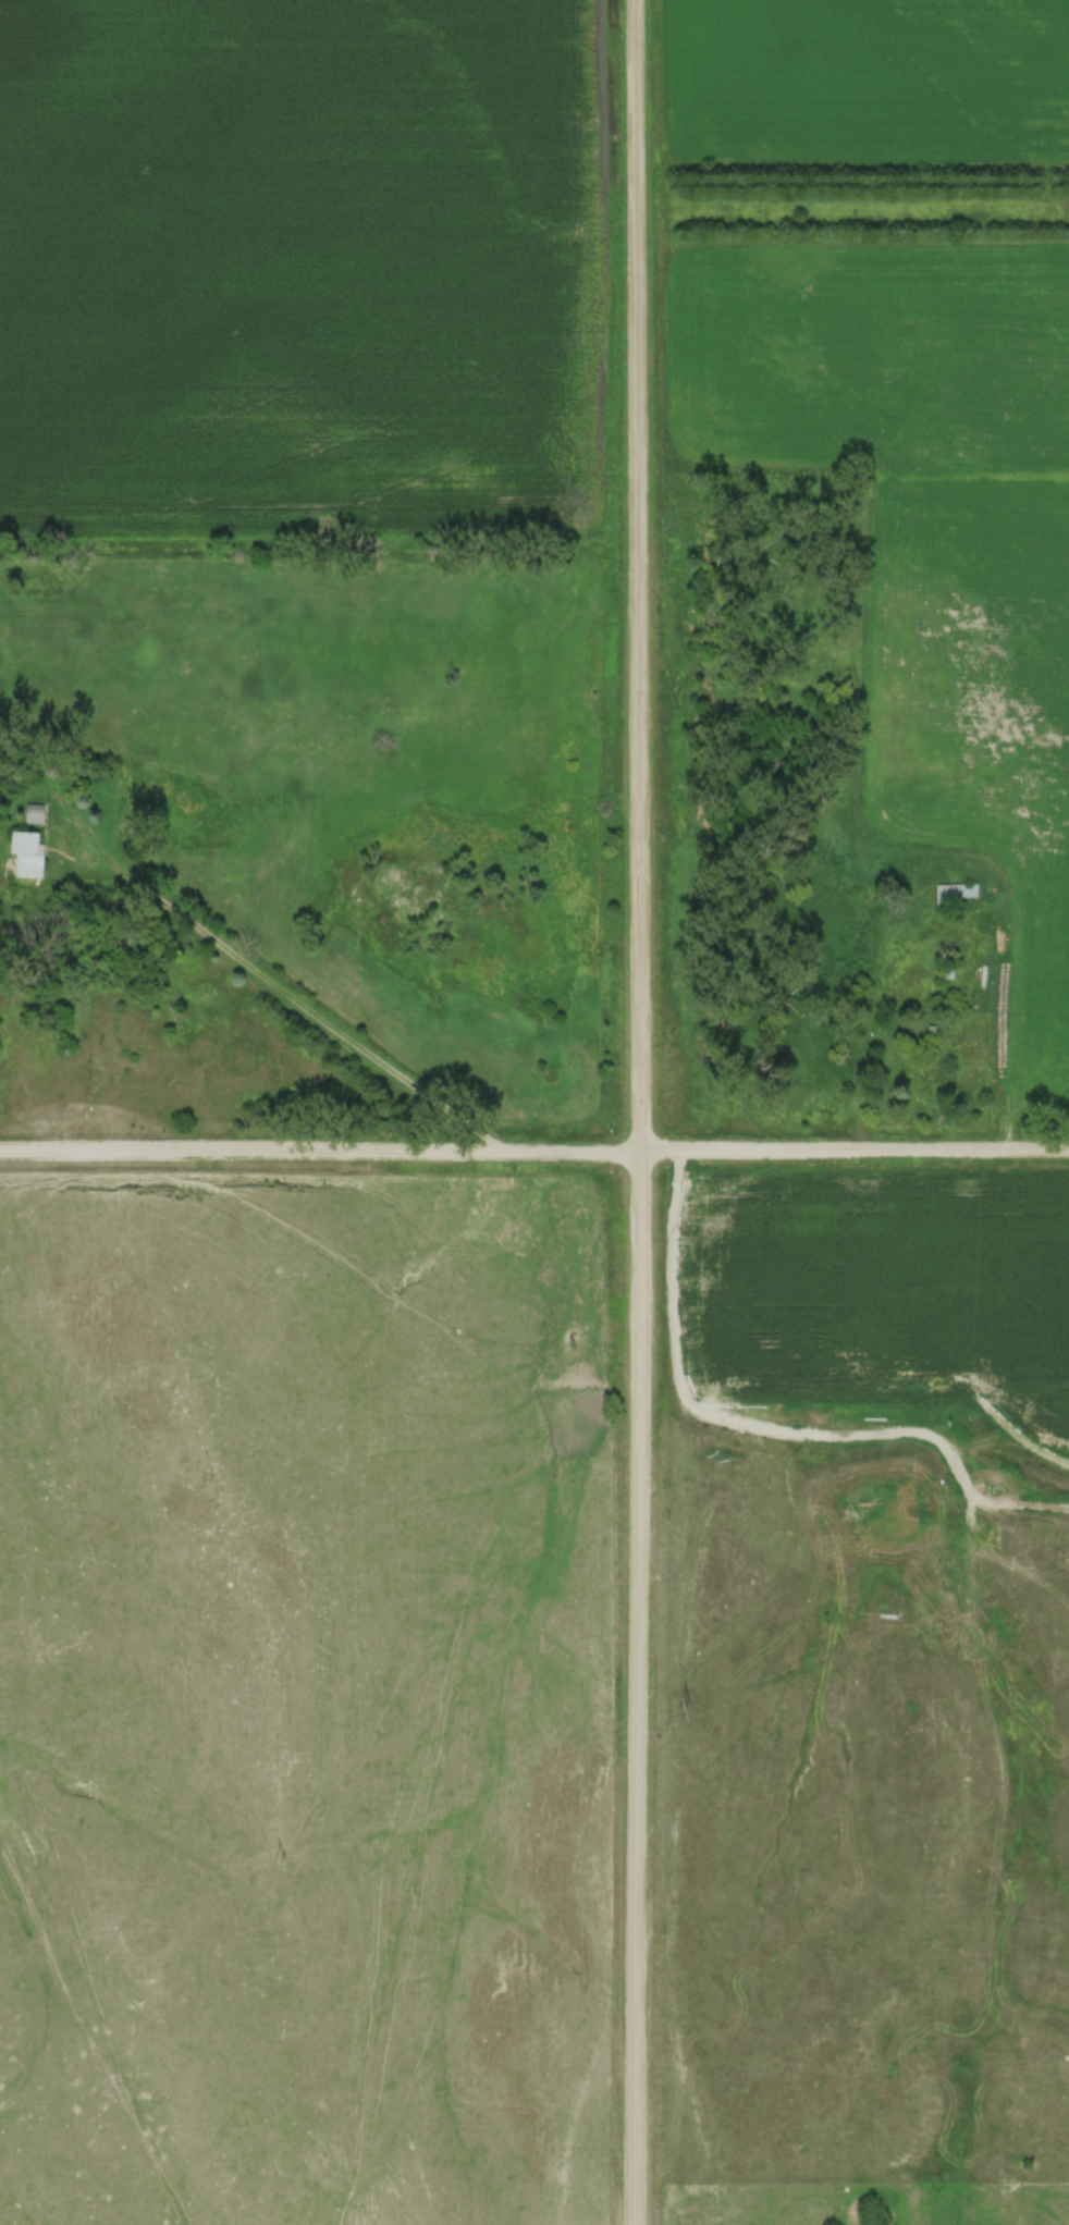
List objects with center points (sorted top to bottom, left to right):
building: (32, 811)
building: (24, 851)
building: (956, 893)
road: (261, 975)
road: (872, 994)
road: (638, 1112)
road: (534, 1151)
power tower: (688, 1708)
power tower: (280, 1860)

